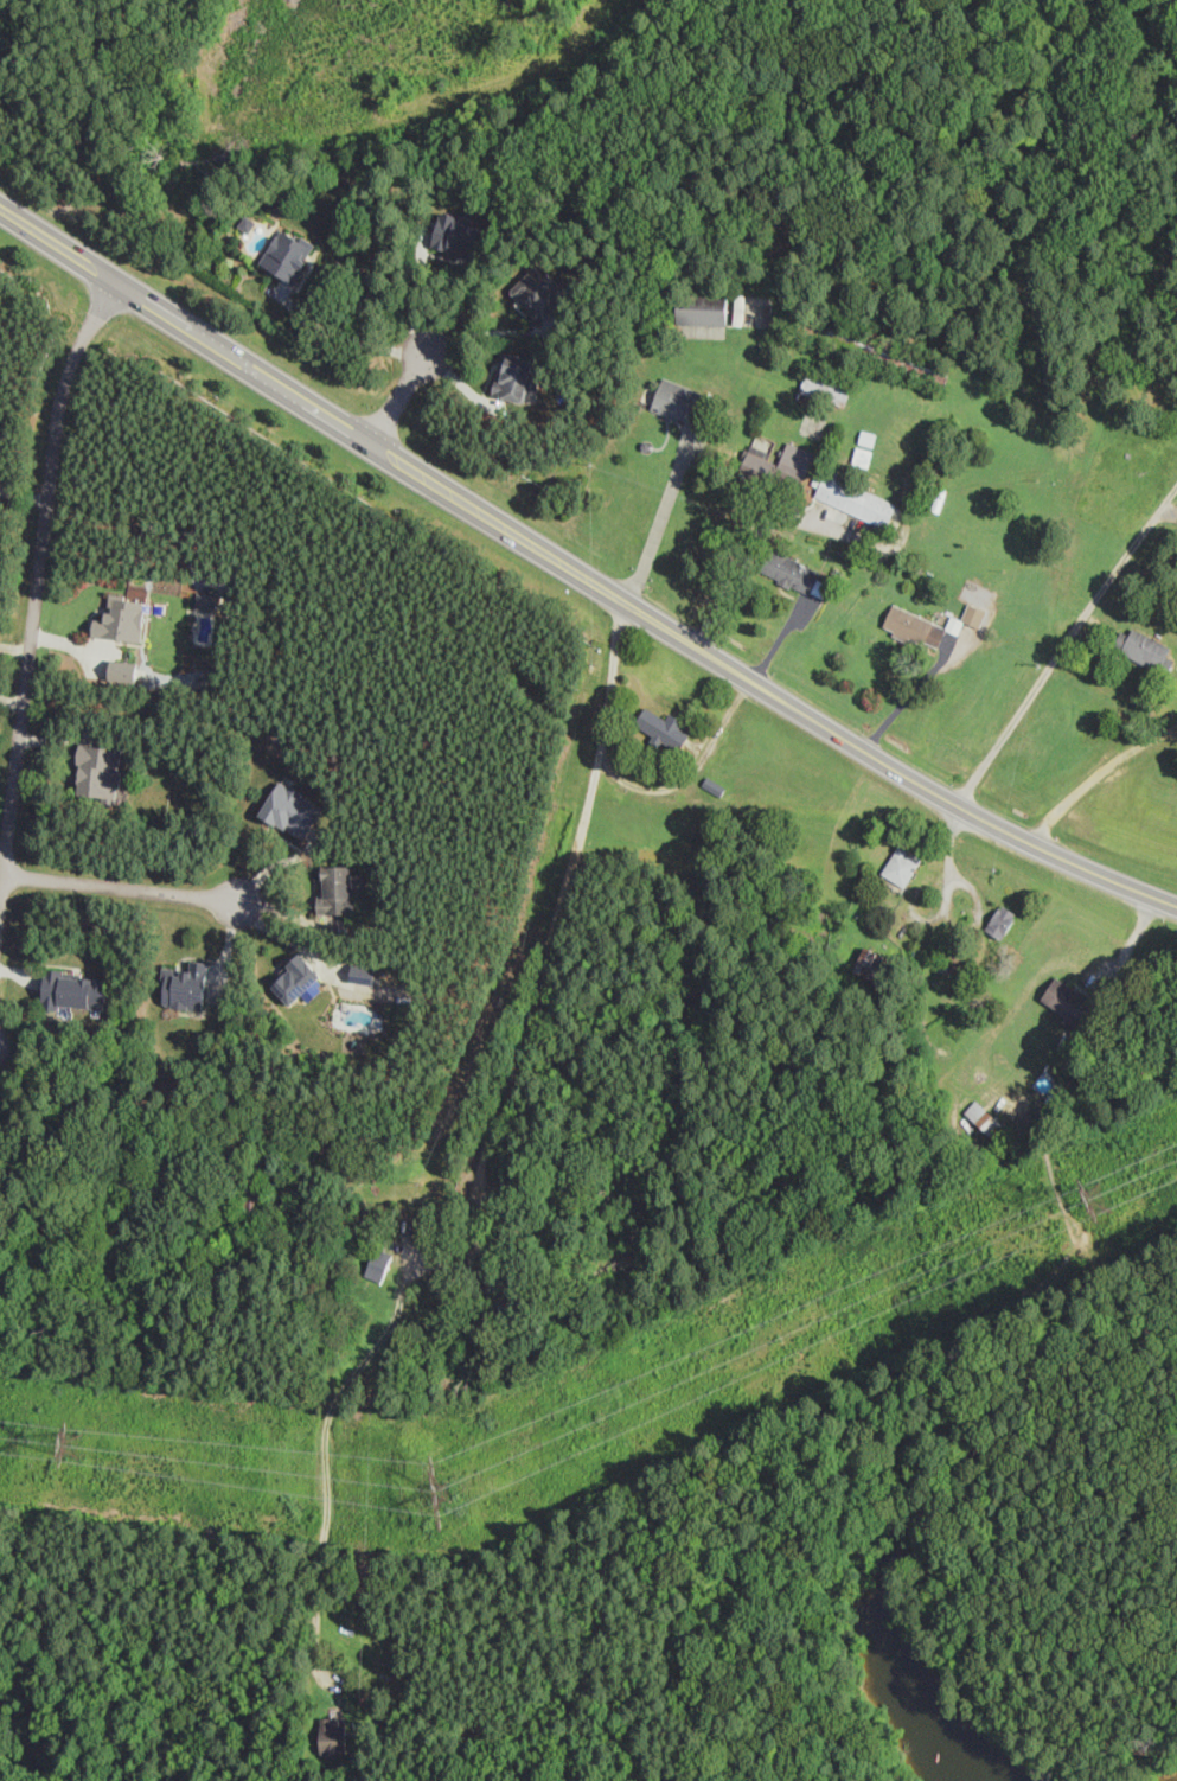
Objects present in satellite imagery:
road: (770, 49)
building: (248, 223)
building: (460, 236)
building: (289, 255)
road: (446, 256)
road: (270, 273)
road: (305, 279)
road: (417, 291)
building: (540, 292)
building: (705, 312)
road: (529, 317)
road: (493, 333)
road: (343, 334)
building: (874, 346)
building: (516, 377)
road: (490, 379)
road: (462, 384)
building: (827, 385)
road: (399, 397)
building: (684, 402)
road: (682, 424)
road: (669, 435)
building: (647, 446)
road: (702, 458)
building: (776, 470)
road: (24, 493)
building: (857, 499)
road: (663, 513)
parking lot: (834, 521)
road: (750, 541)
building: (791, 570)
road: (578, 573)
road: (38, 592)
road: (793, 595)
building: (209, 601)
building: (161, 607)
building: (975, 614)
building: (123, 620)
road: (90, 624)
building: (915, 627)
road: (1095, 630)
road: (782, 637)
road: (1066, 644)
road: (71, 646)
road: (15, 647)
building: (1147, 650)
road: (100, 662)
building: (124, 670)
road: (914, 691)
road: (12, 700)
building: (666, 728)
road: (58, 738)
road: (73, 759)
building: (102, 771)
road: (689, 777)
road: (1098, 779)
building: (716, 786)
building: (292, 810)
building: (903, 867)
building: (339, 885)
road: (123, 888)
road: (1, 896)
road: (979, 896)
road: (915, 901)
building: (1004, 921)
building: (958, 964)
building: (872, 965)
building: (364, 974)
building: (296, 979)
building: (190, 987)
building: (73, 990)
building: (1074, 1007)
road: (1053, 1070)
building: (990, 1122)
road: (482, 1166)
building: (256, 1201)
power tower: (1105, 1201)
building: (380, 1264)
building: (500, 1277)
power tower: (73, 1442)
road: (909, 1479)
power tower: (453, 1492)
building: (372, 1693)
building: (334, 1734)

